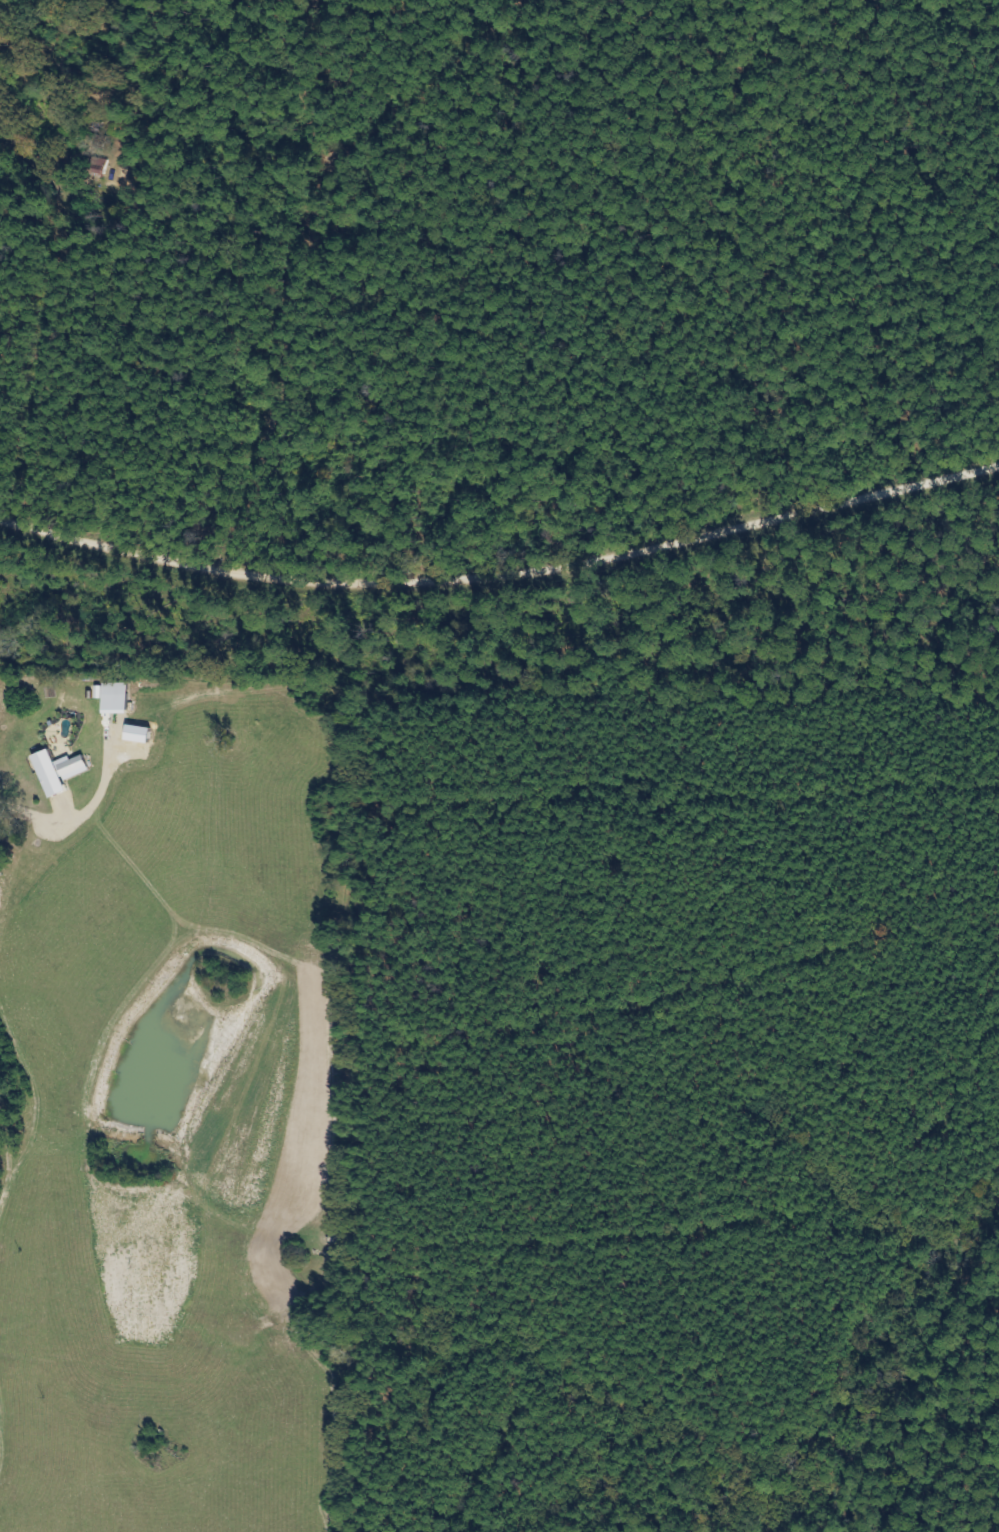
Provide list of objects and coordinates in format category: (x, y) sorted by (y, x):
road: (236, 294)
road: (500, 558)
building: (112, 699)
building: (54, 773)

